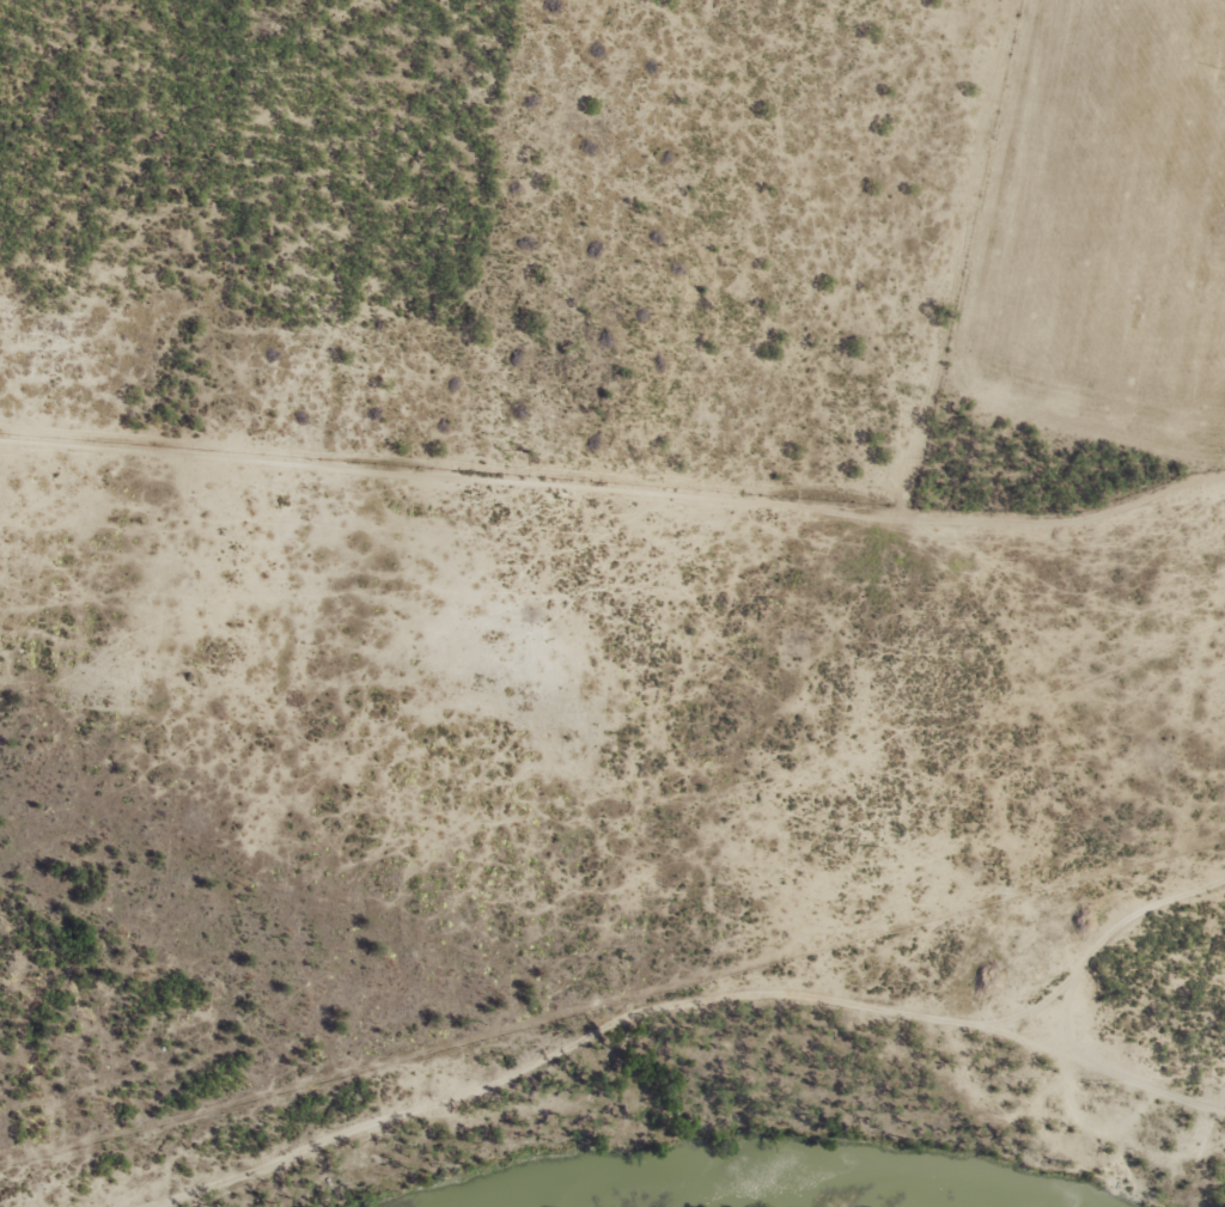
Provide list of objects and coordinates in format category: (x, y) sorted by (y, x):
road: (1109, 956)
road: (627, 1041)
road: (1138, 1097)
river: (711, 1181)

